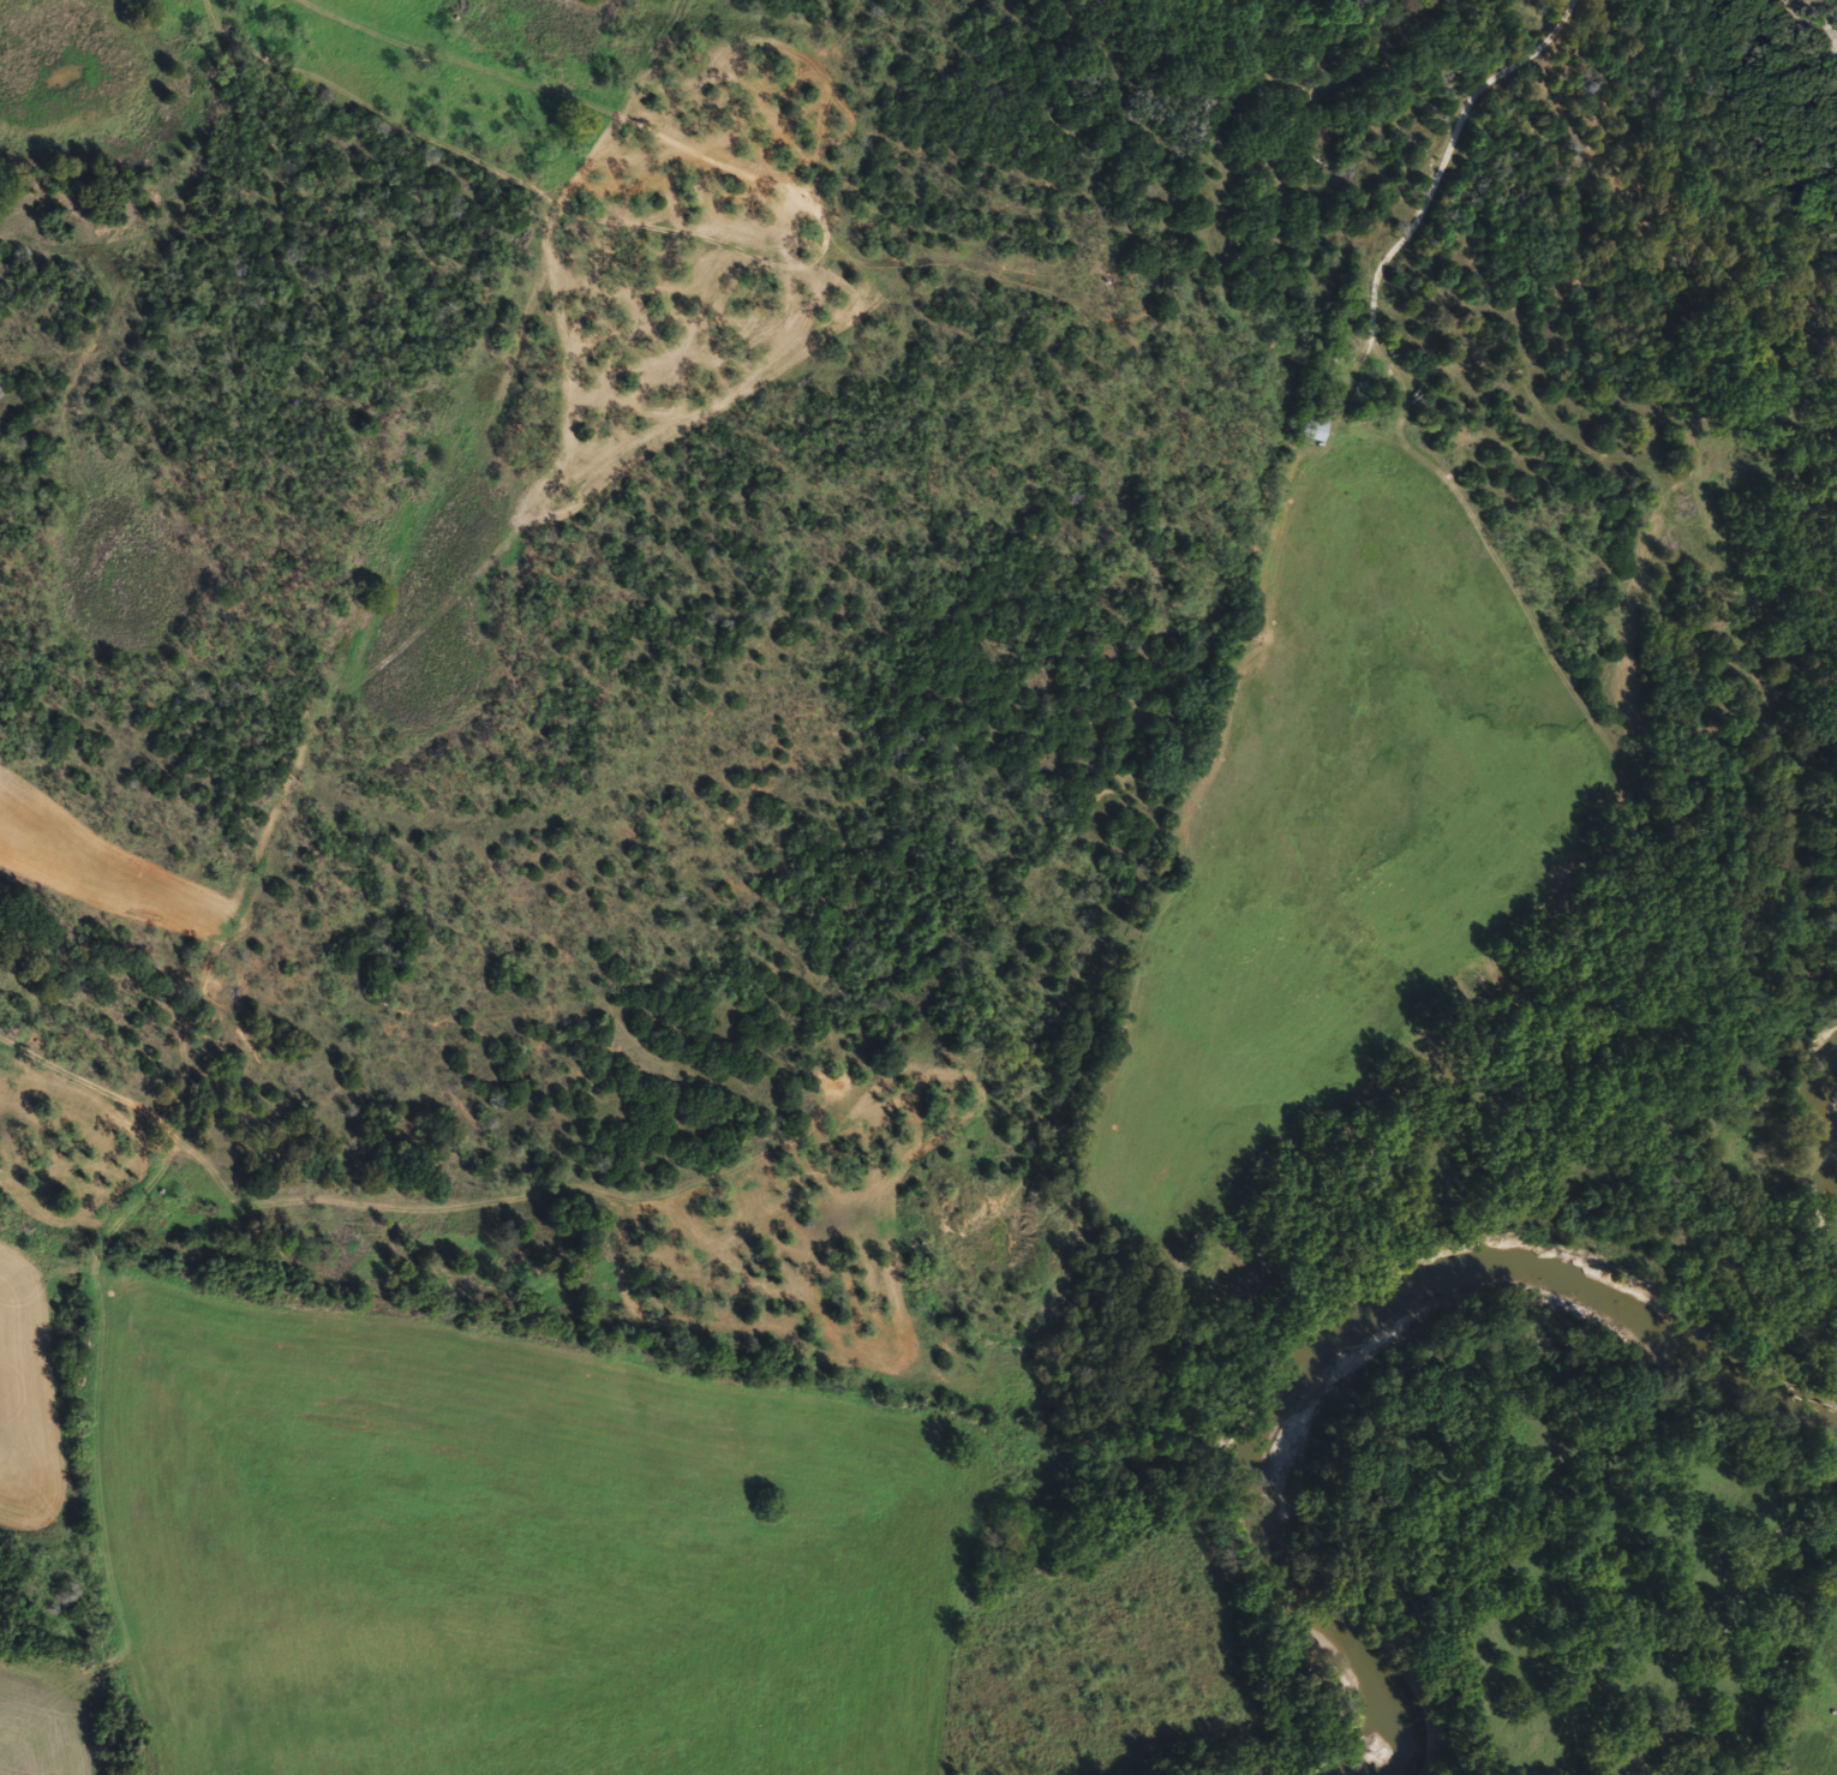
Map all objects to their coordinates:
building: (1317, 429)
road: (1245, 460)
river: (1360, 1338)

